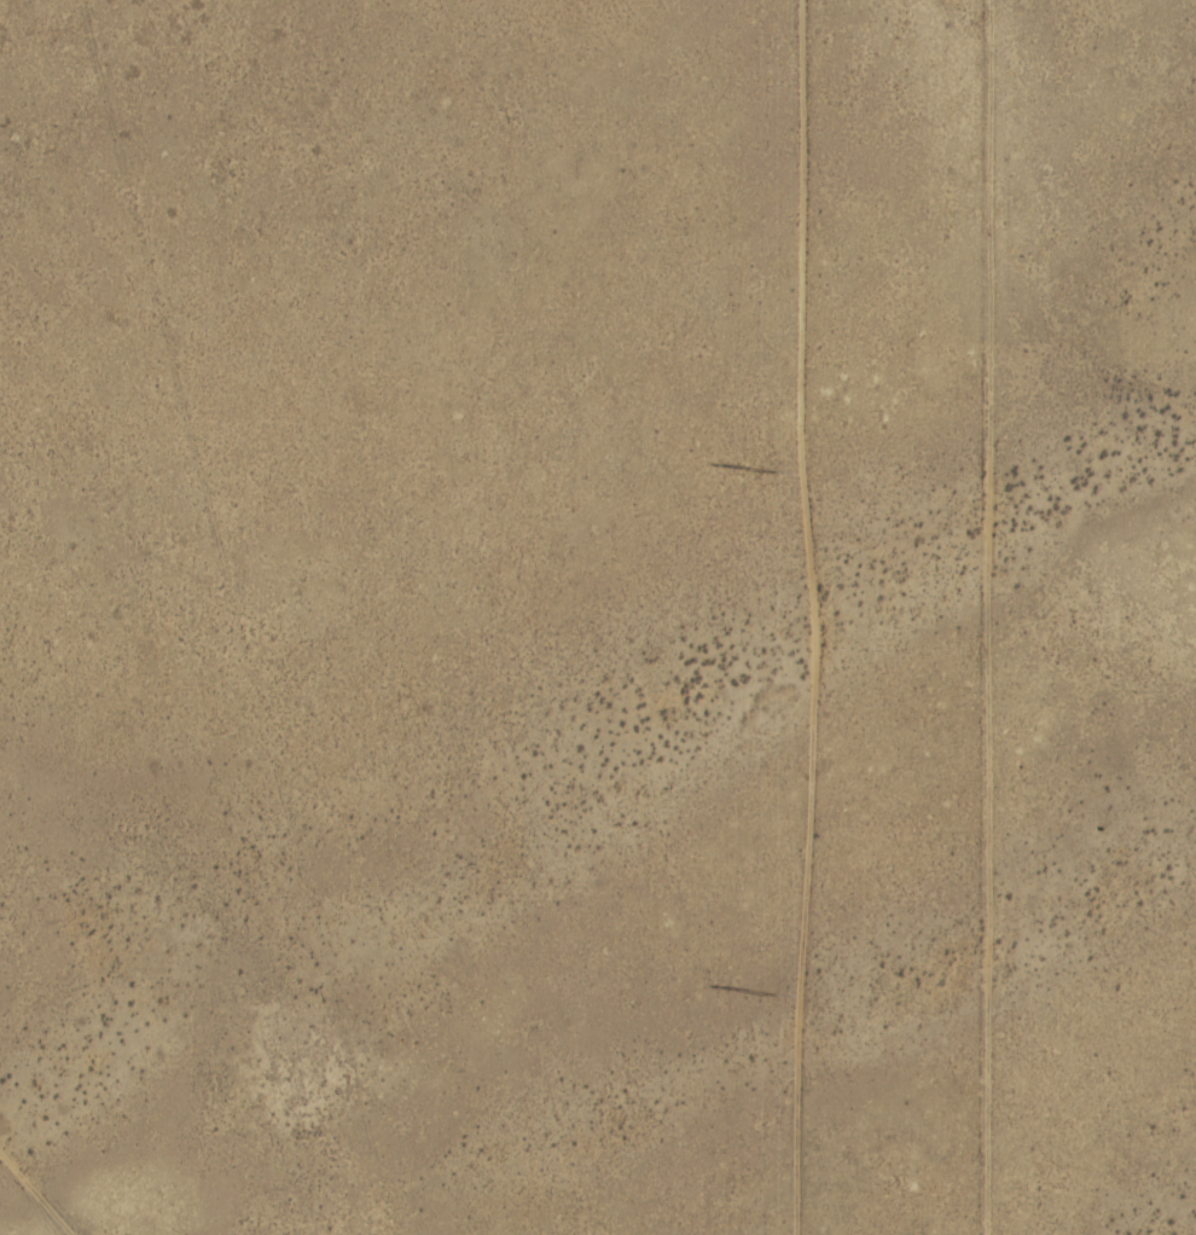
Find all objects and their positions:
power tower: (768, 470)
power tower: (771, 992)
road: (12, 1218)

